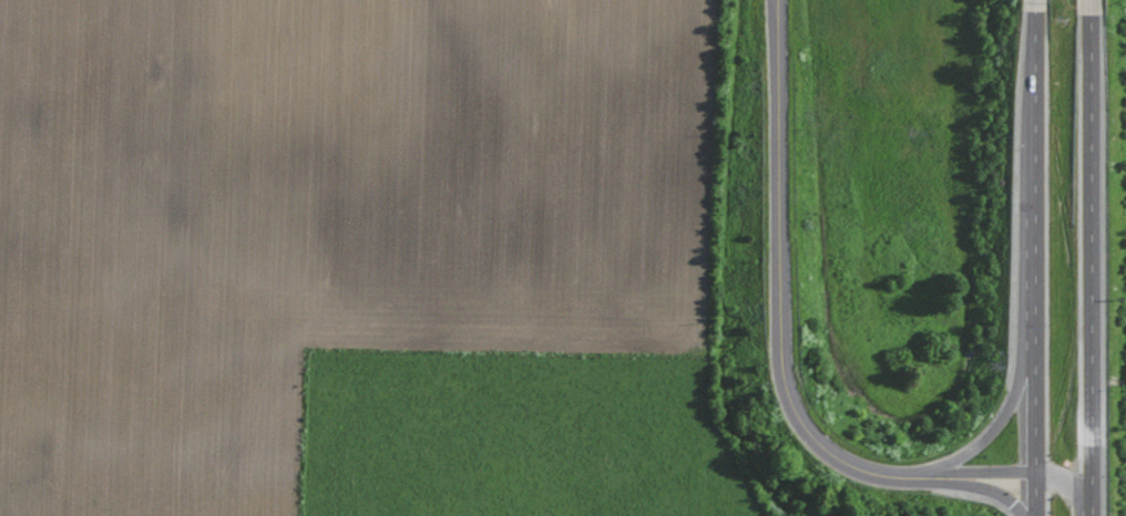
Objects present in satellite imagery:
road: (1034, 2)
road: (1089, 4)
road: (1034, 260)
road: (1089, 262)
road: (778, 292)
road: (999, 420)
road: (1024, 469)
road: (986, 487)

